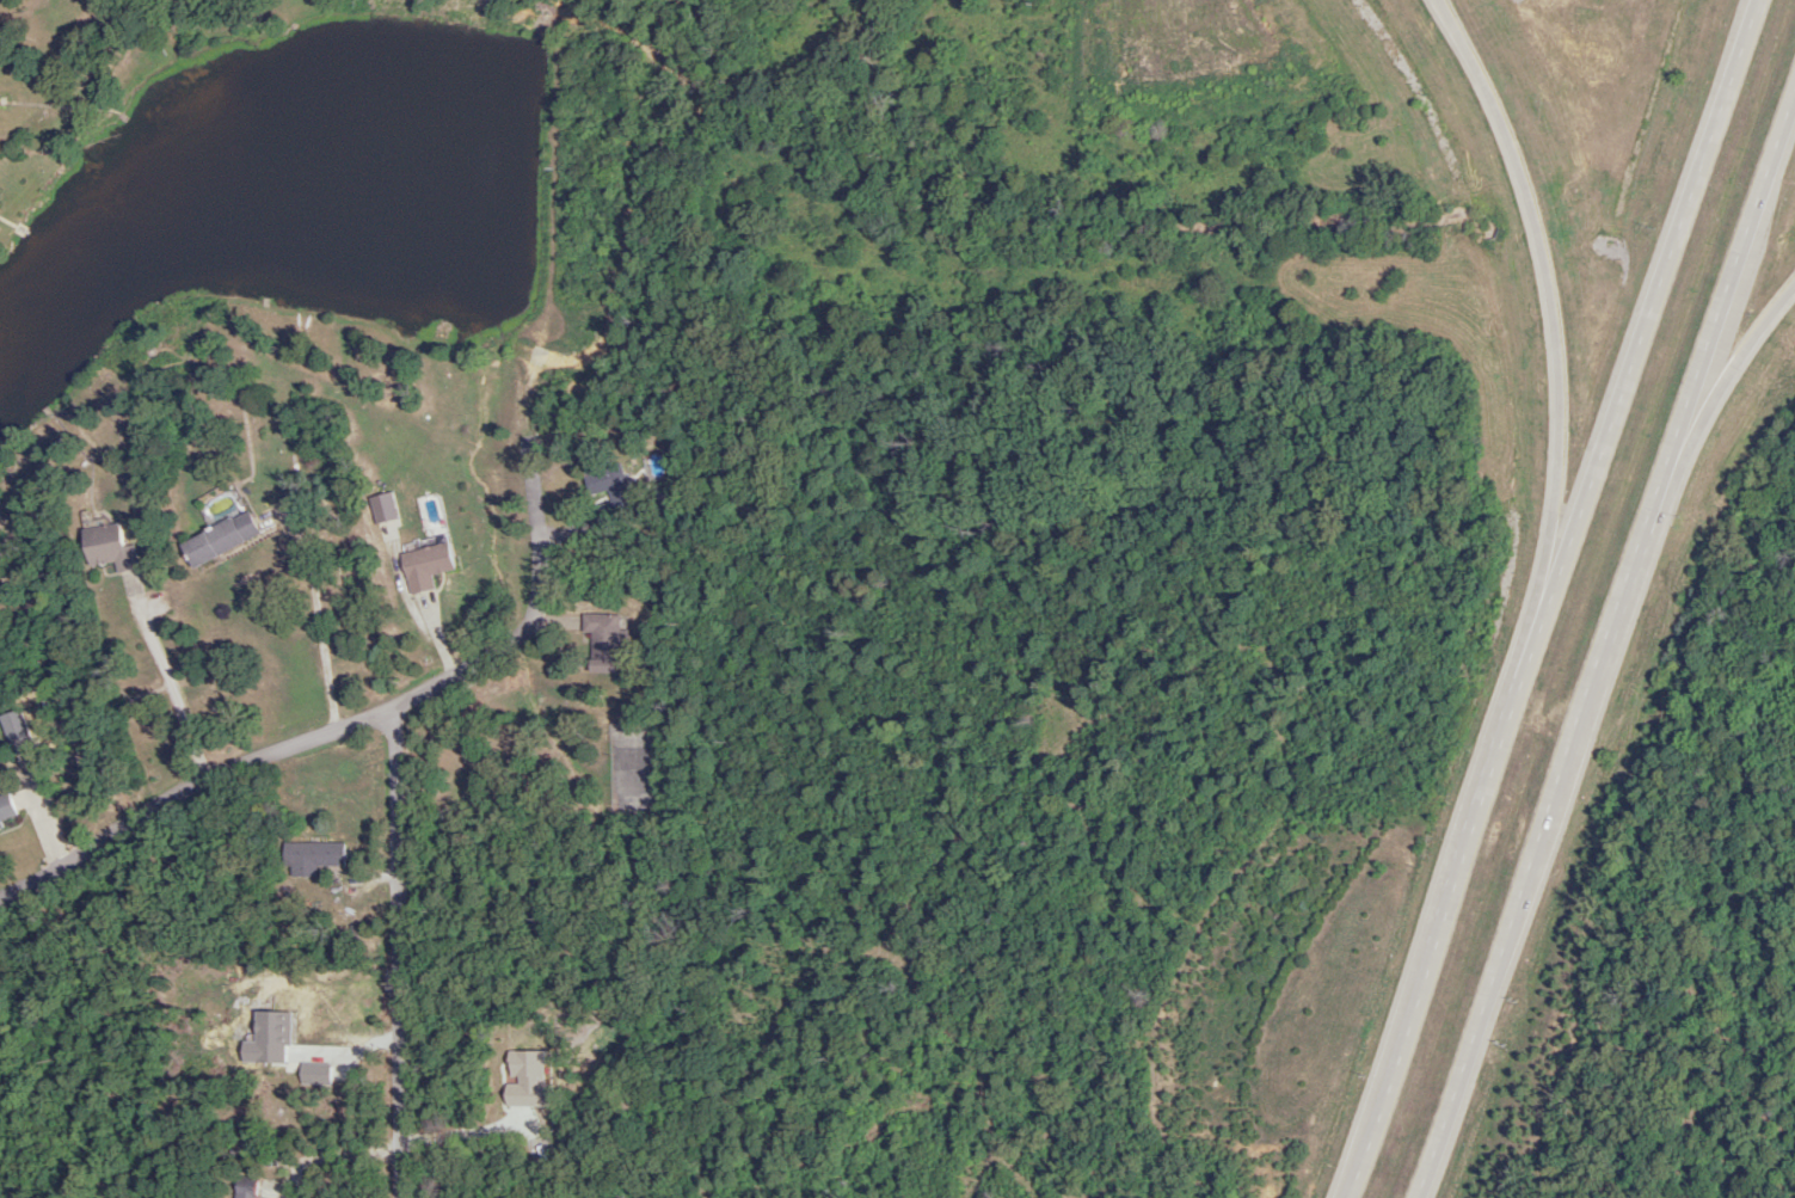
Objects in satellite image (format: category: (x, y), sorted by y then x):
building: (1604, 11)
road: (1550, 276)
road: (1735, 361)
building: (608, 491)
building: (217, 537)
building: (106, 547)
building: (424, 565)
road: (1547, 597)
road: (321, 618)
building: (602, 641)
road: (1605, 653)
road: (165, 681)
road: (380, 713)
building: (13, 726)
building: (5, 805)
road: (36, 823)
building: (0, 825)
building: (311, 856)
road: (397, 951)
road: (334, 1159)
building: (242, 1192)

